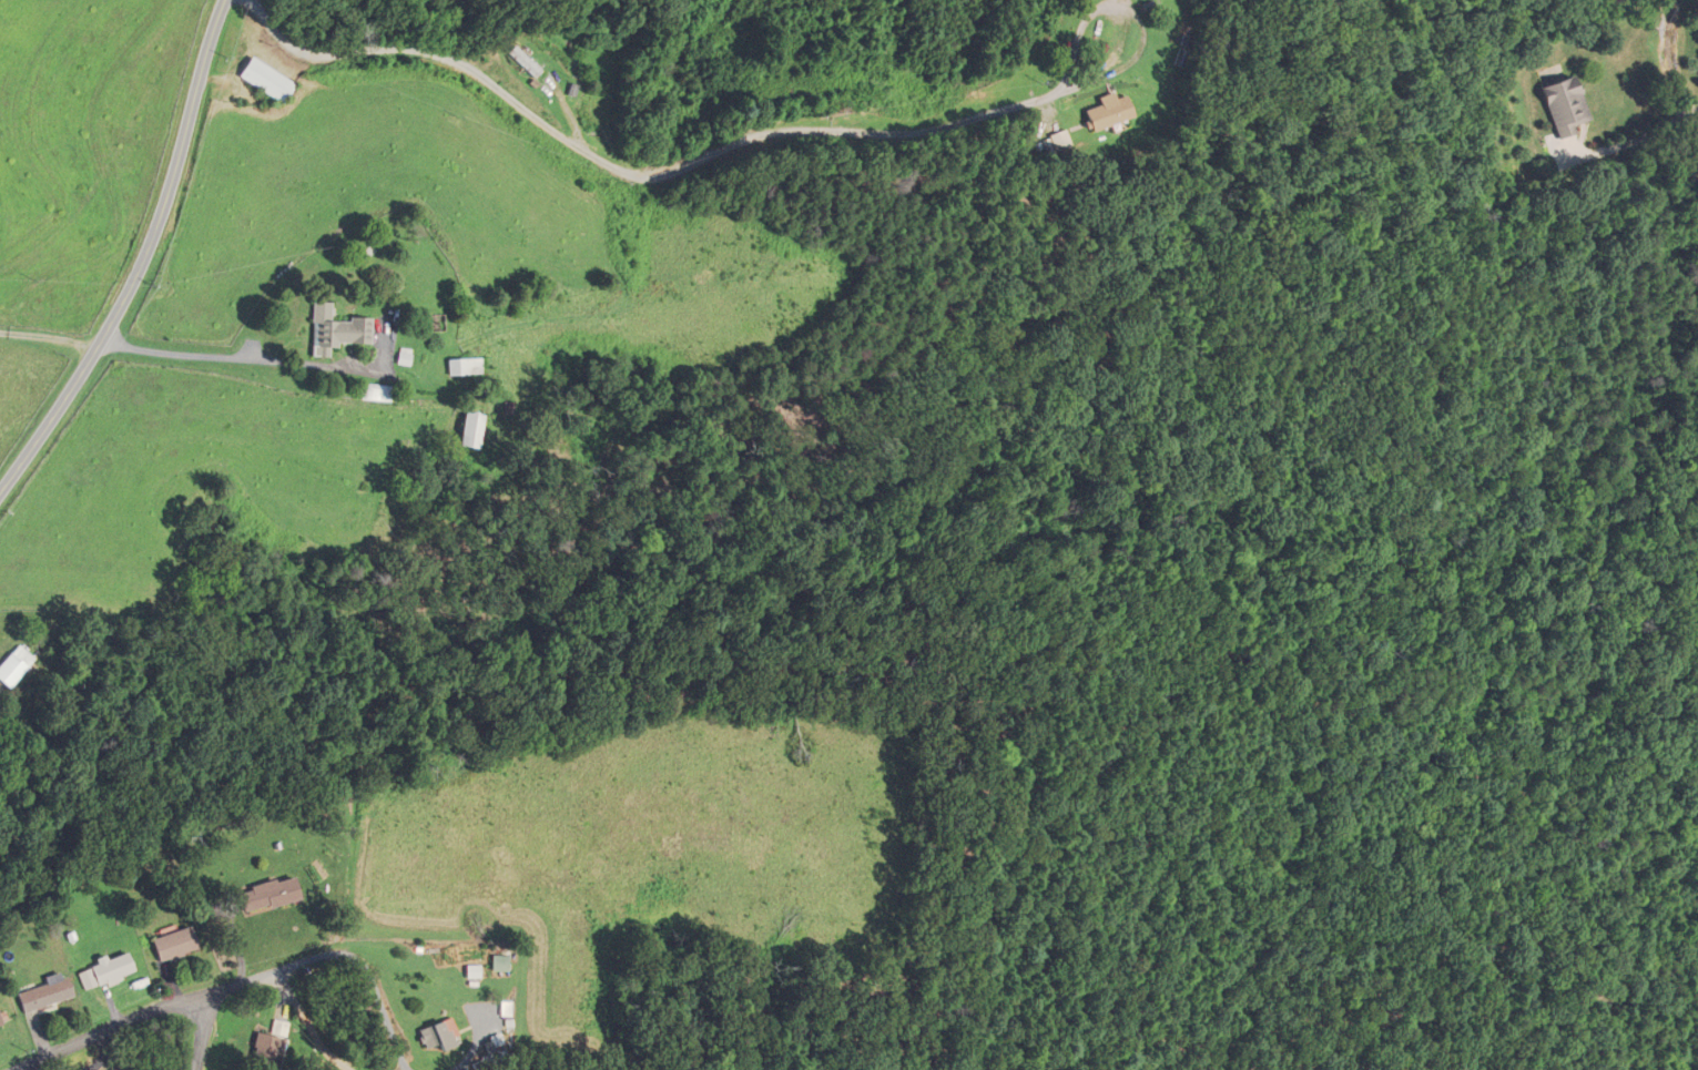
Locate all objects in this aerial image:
building: (525, 62)
building: (267, 81)
building: (1562, 105)
building: (1105, 112)
road: (1640, 136)
road: (634, 176)
road: (144, 264)
building: (335, 330)
road: (50, 342)
road: (242, 360)
building: (465, 366)
building: (379, 393)
building: (470, 430)
building: (18, 666)
building: (267, 895)
building: (174, 945)
building: (112, 969)
building: (44, 993)
road: (382, 1000)
road: (172, 1006)
building: (504, 1008)
building: (0, 1025)
building: (283, 1028)
road: (205, 1033)
building: (438, 1036)
building: (495, 1050)
building: (267, 1052)

